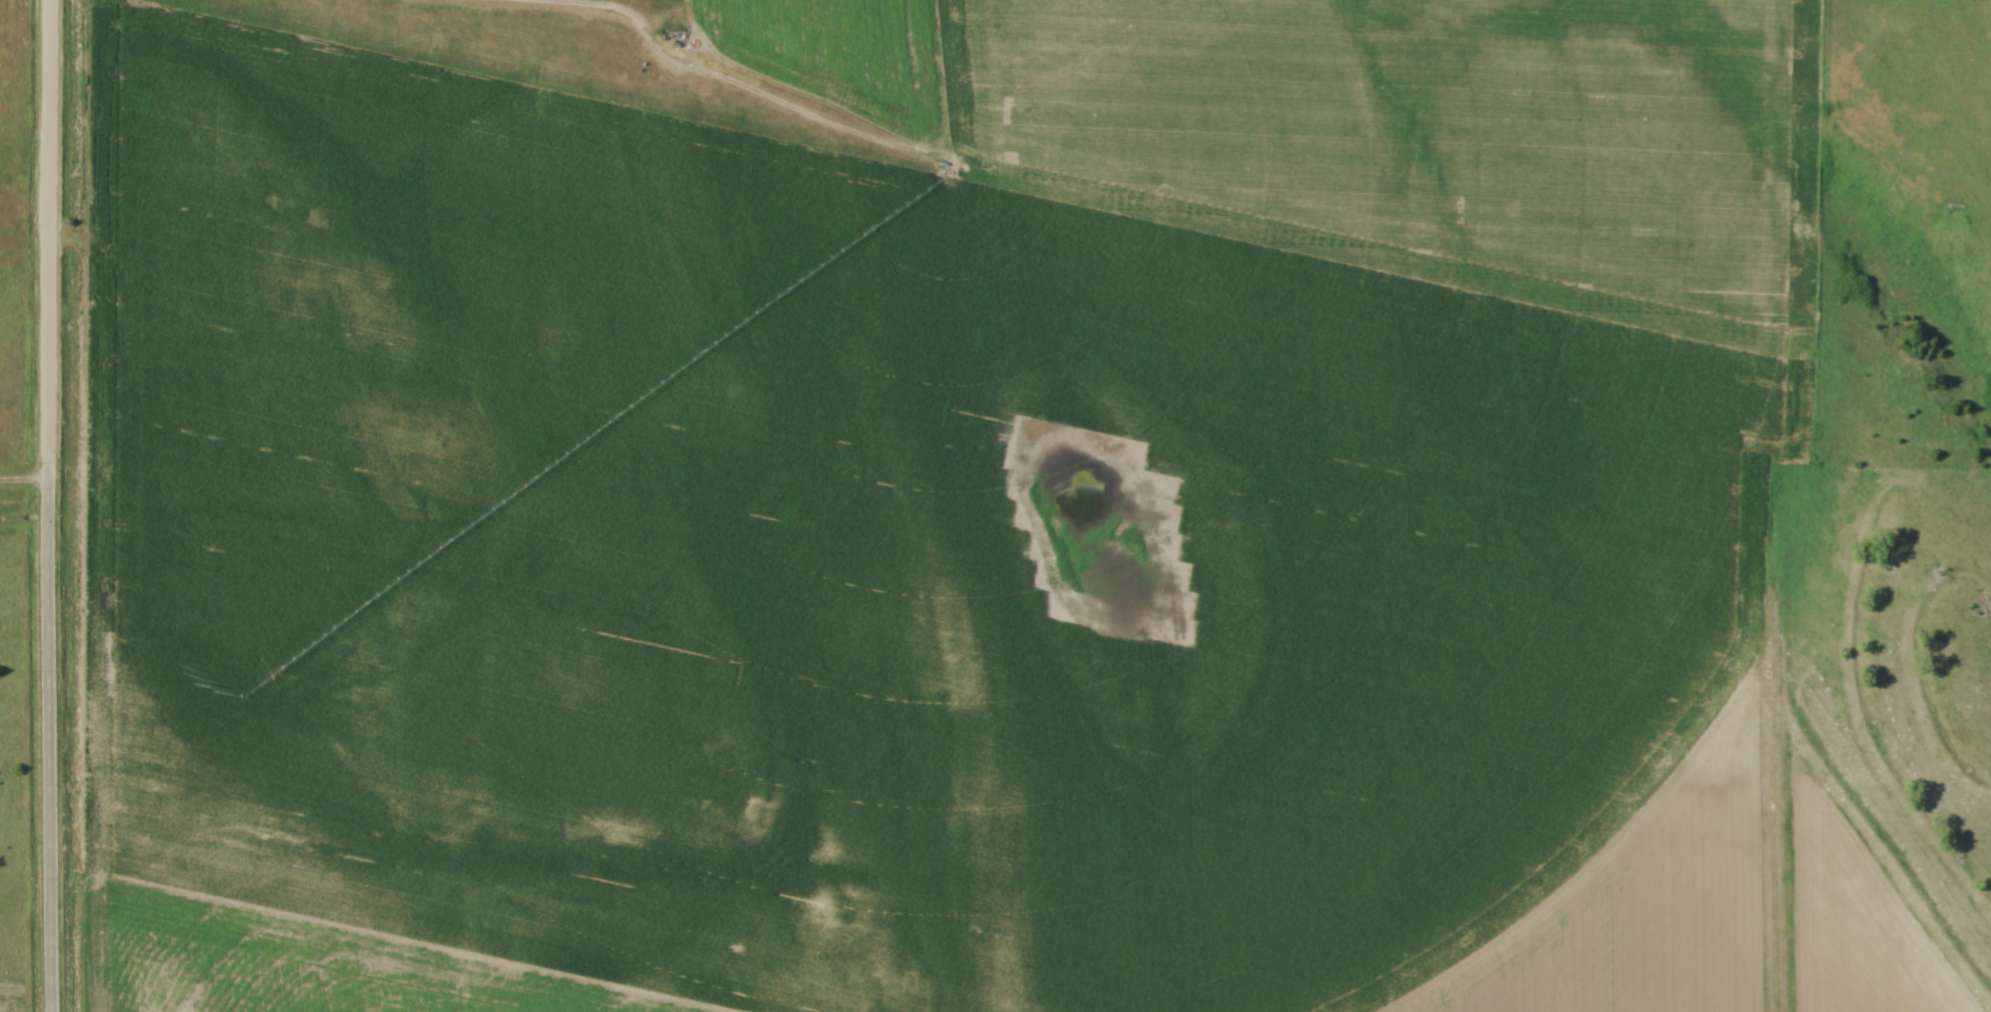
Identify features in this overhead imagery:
road: (49, 237)
road: (49, 744)

